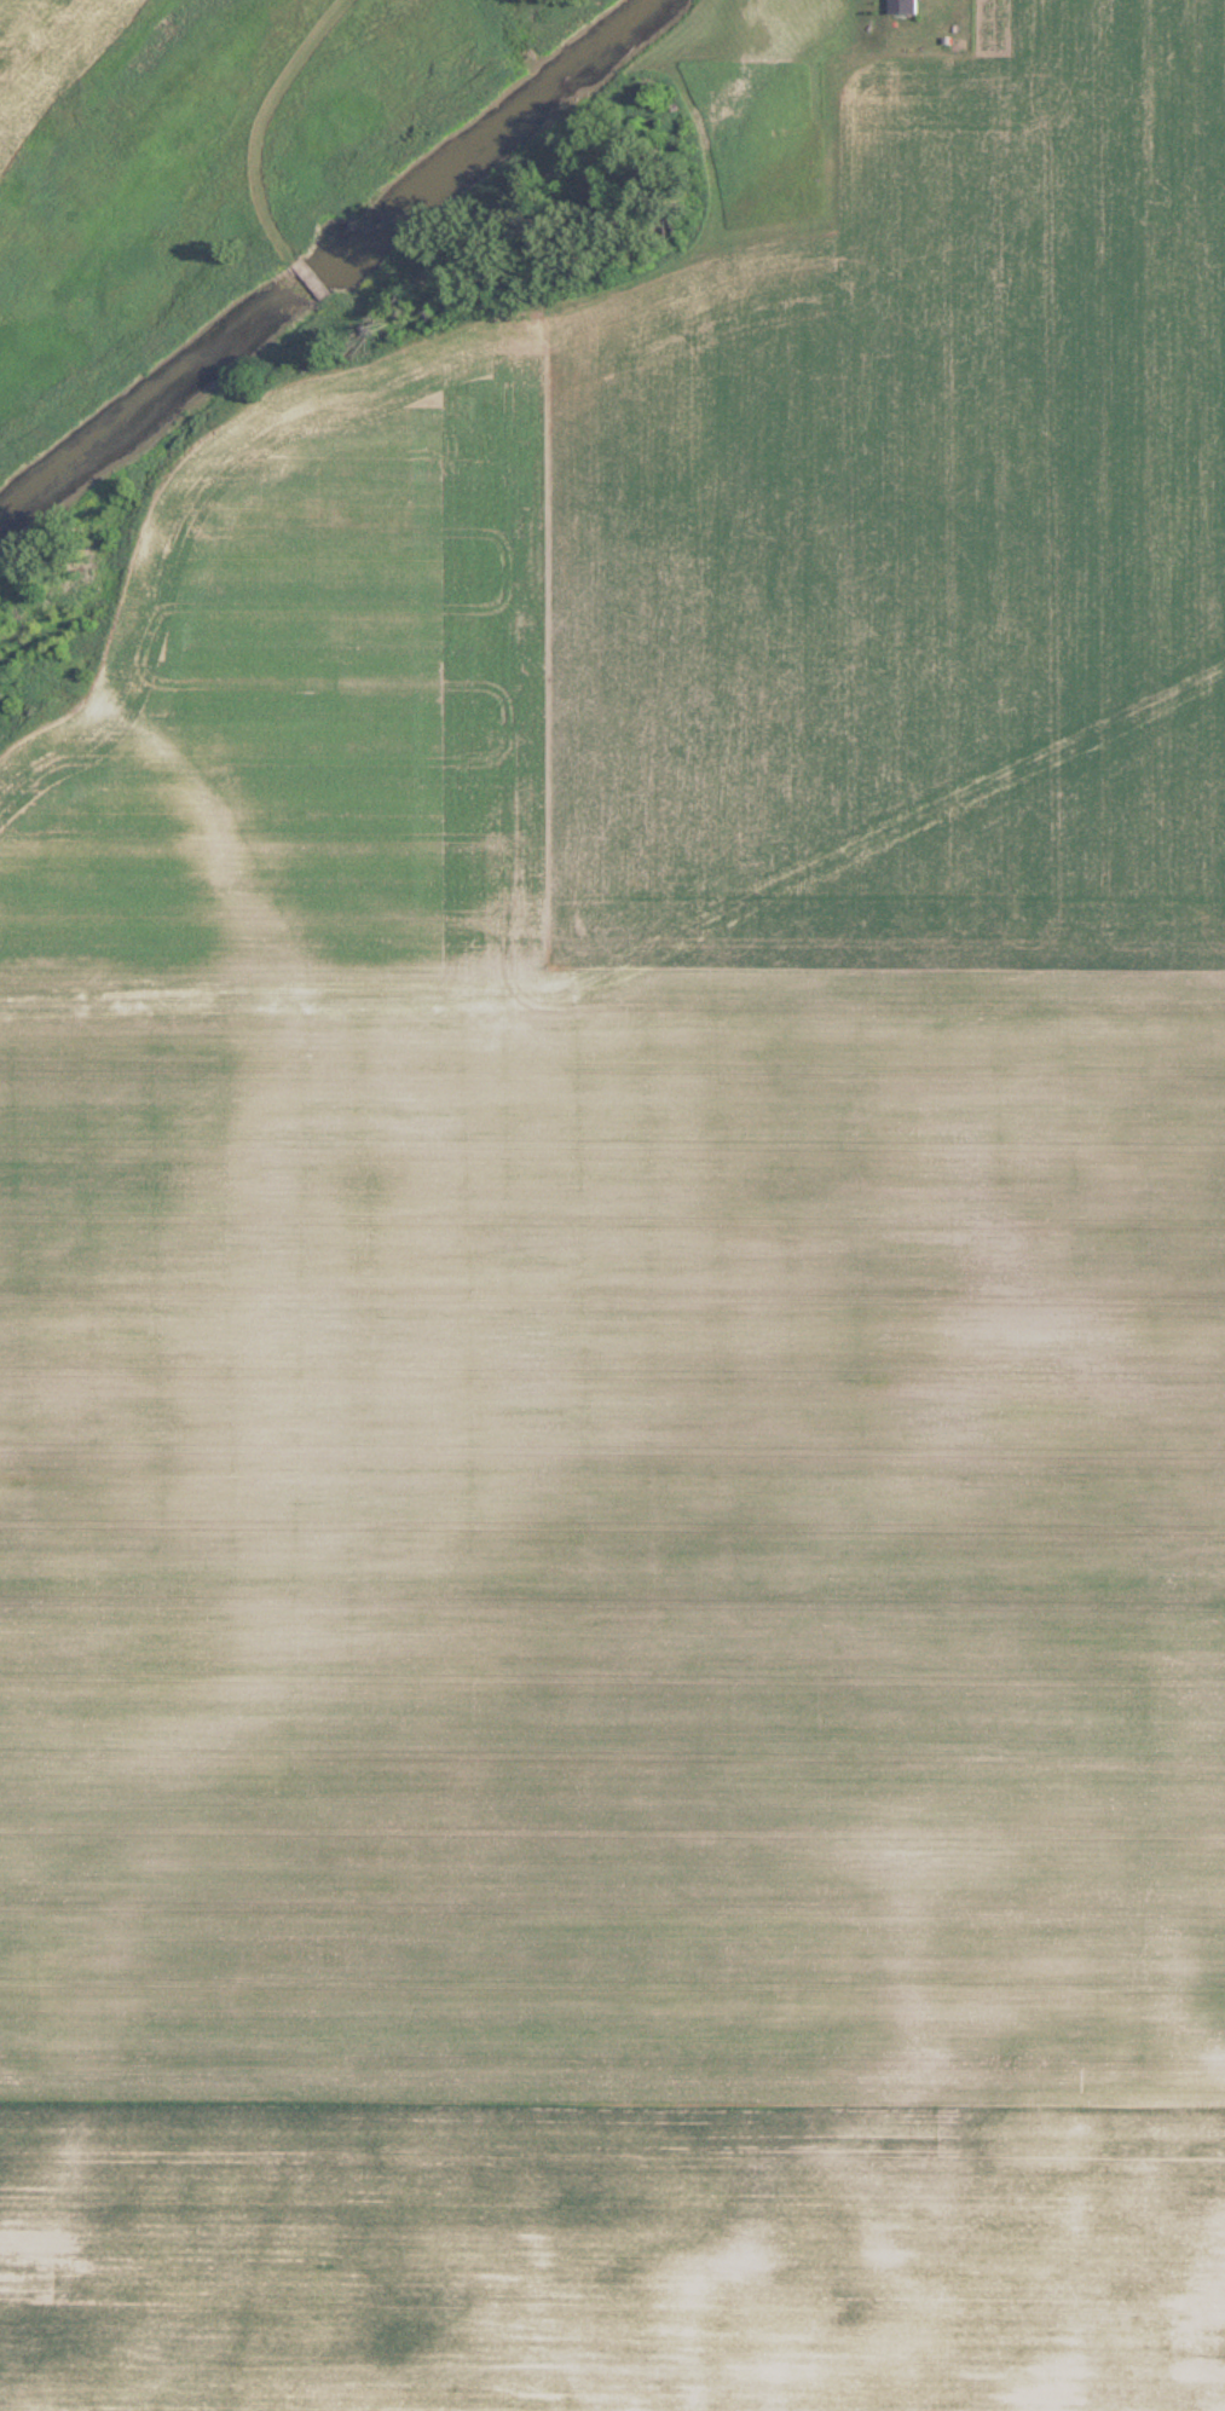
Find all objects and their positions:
river: (328, 259)

